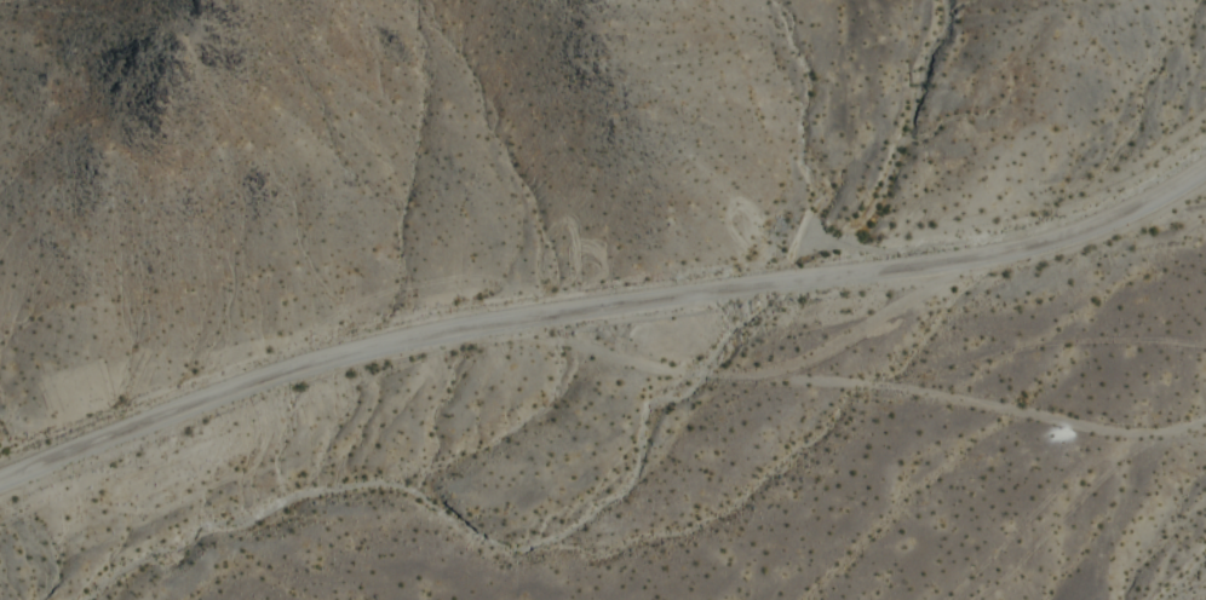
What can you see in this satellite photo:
road: (598, 308)

